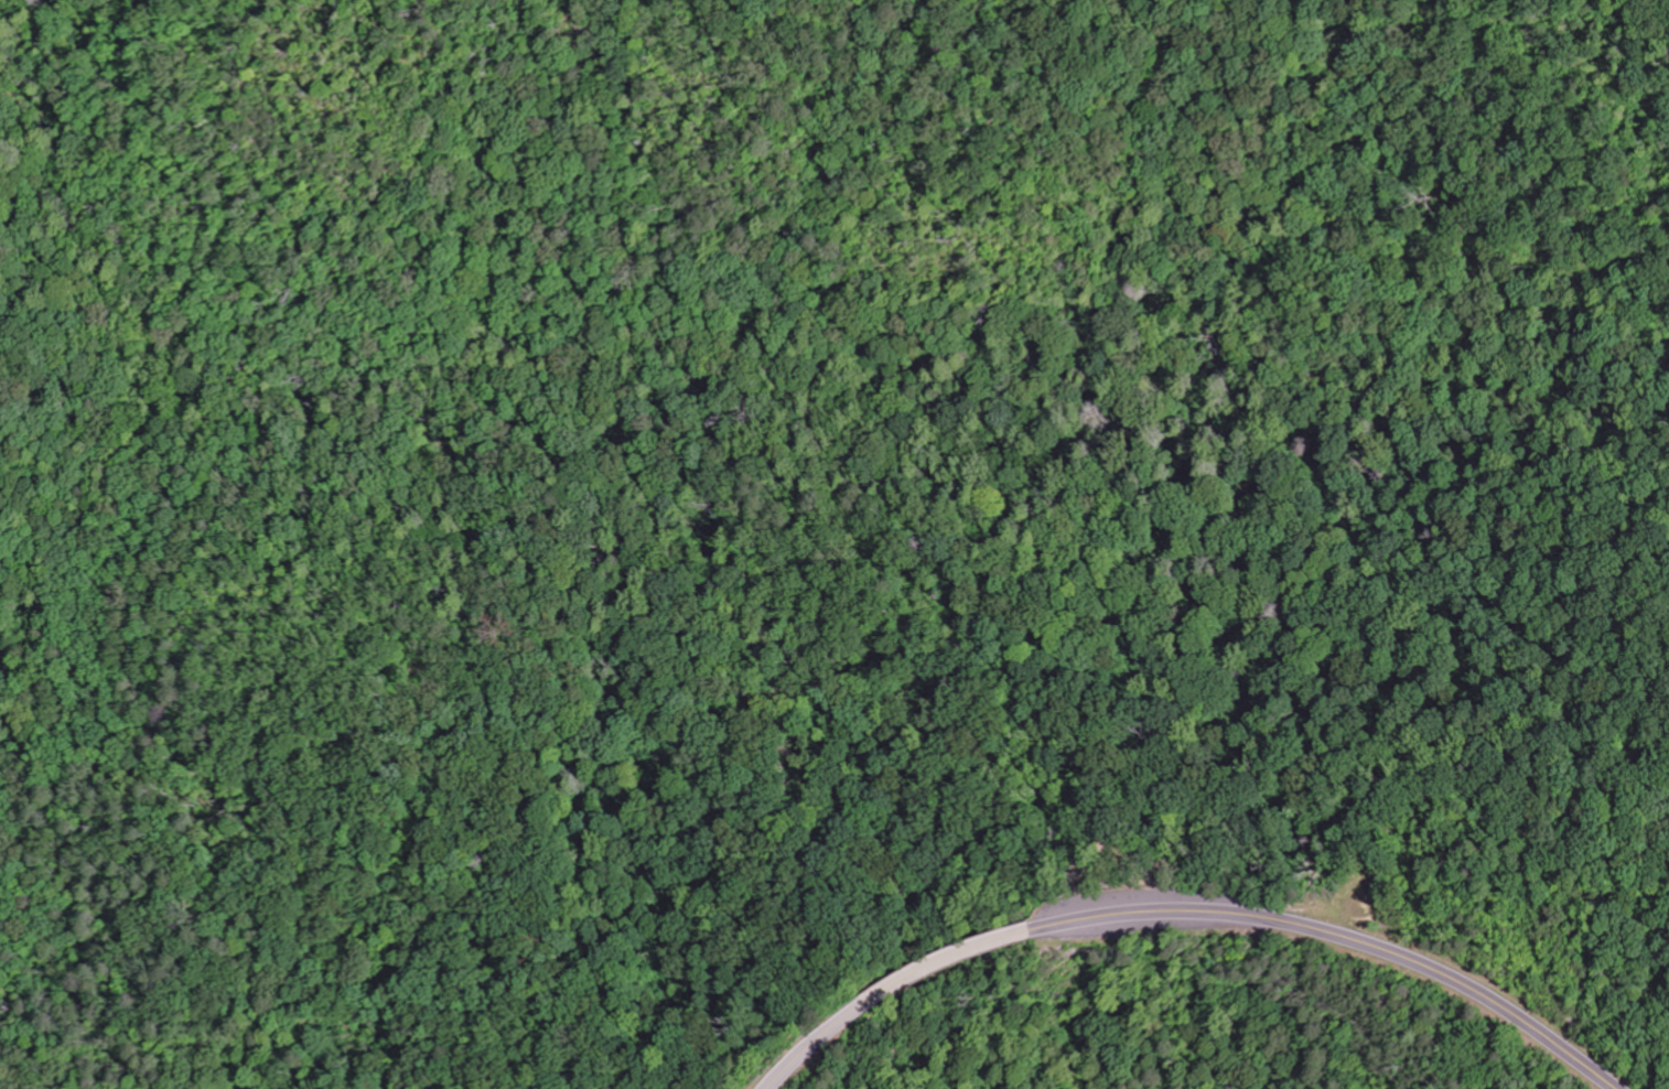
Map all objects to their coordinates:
road: (1188, 913)

